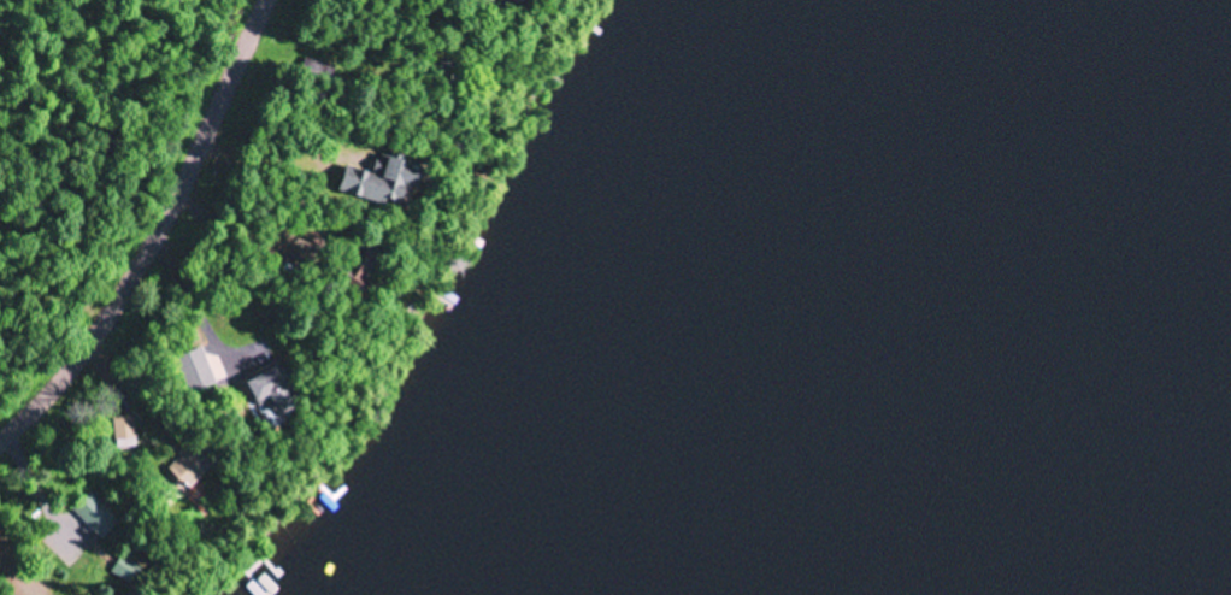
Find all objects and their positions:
building: (520, 1)
building: (388, 185)
road: (157, 236)
building: (276, 393)
building: (125, 432)
building: (188, 469)

